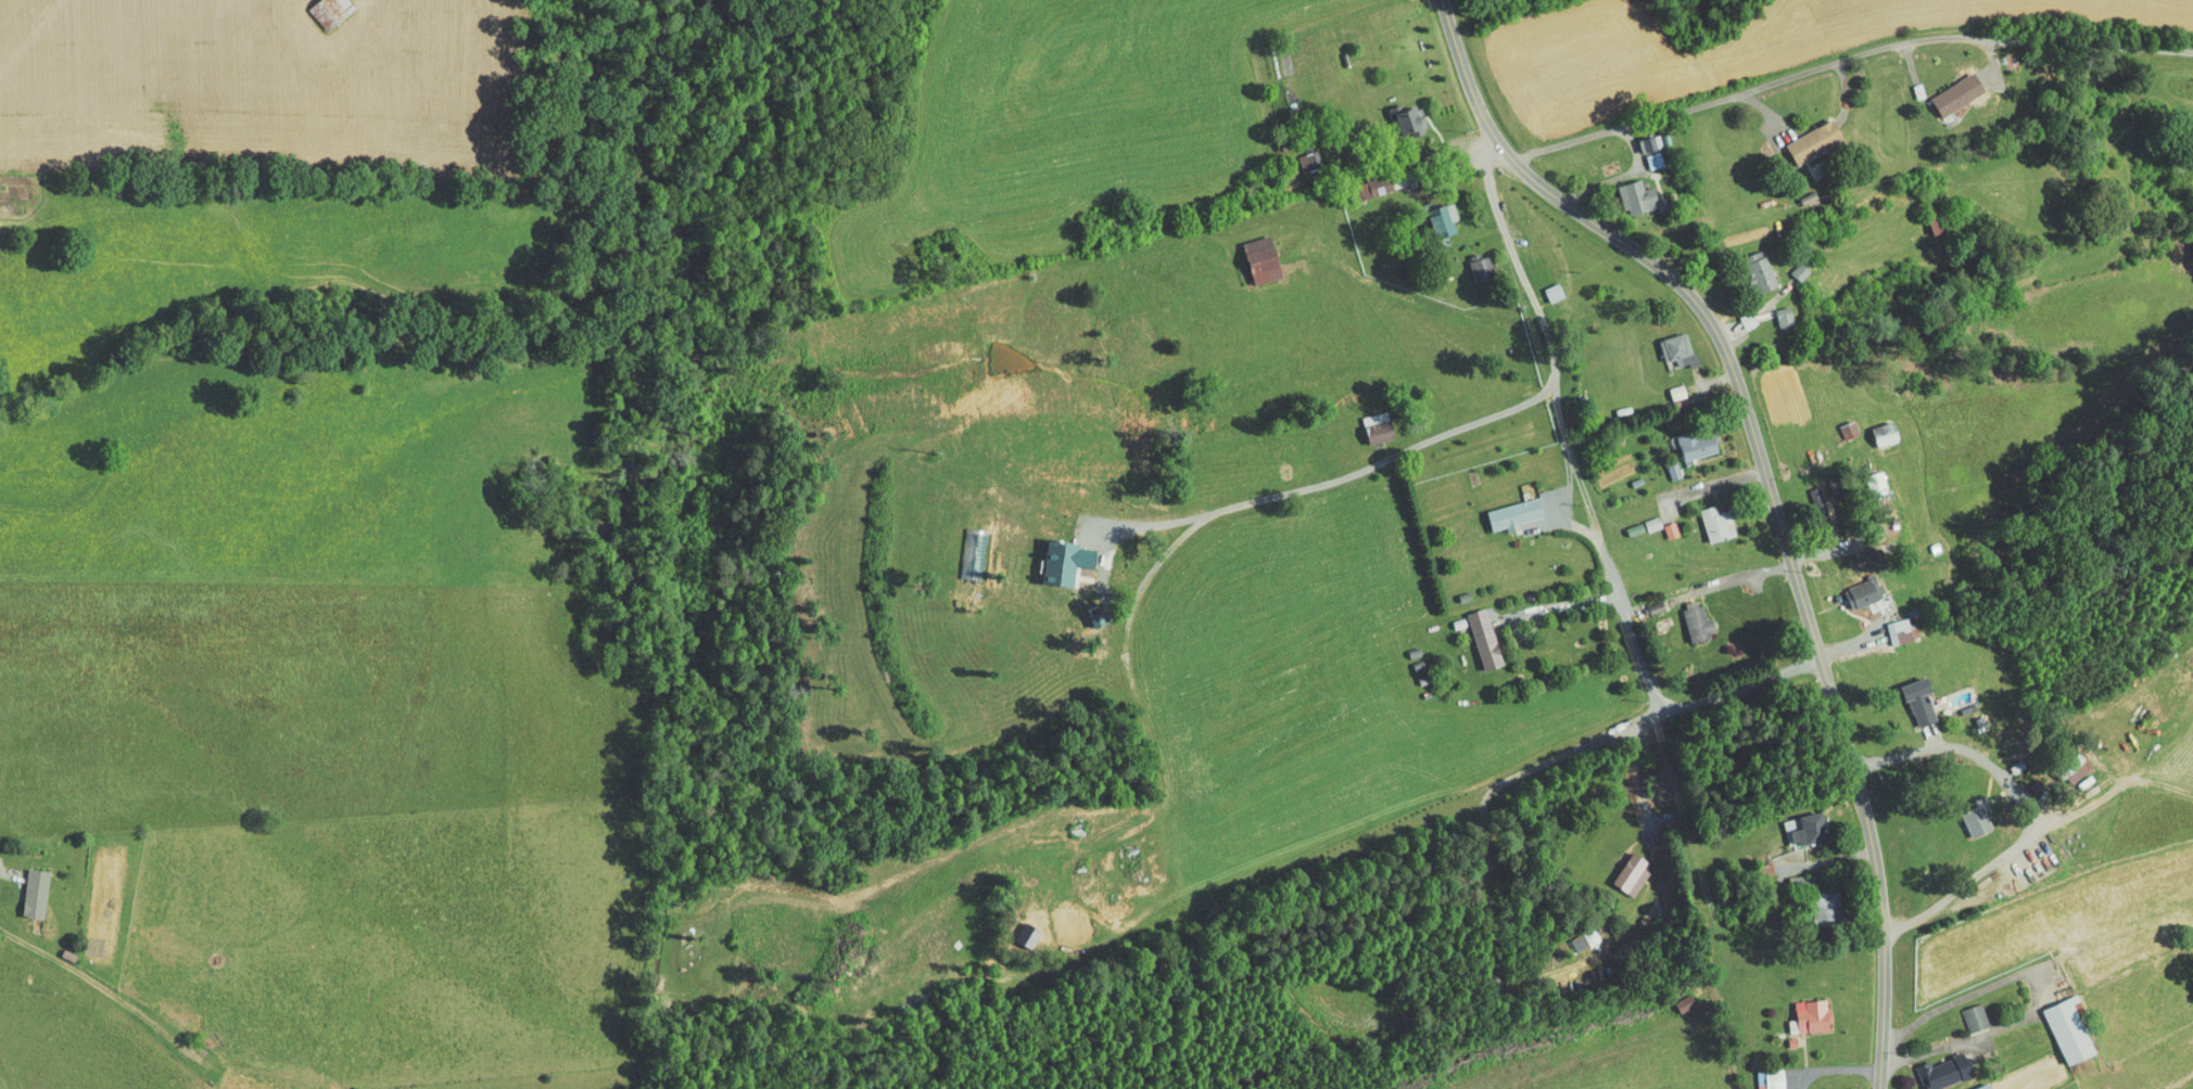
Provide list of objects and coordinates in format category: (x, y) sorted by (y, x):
building: (320, 8)
road: (1837, 60)
building: (1942, 90)
building: (1397, 114)
building: (1805, 133)
building: (1639, 137)
building: (1644, 153)
building: (1300, 154)
building: (1628, 190)
building: (1435, 212)
road: (1488, 218)
building: (1254, 252)
building: (1471, 262)
building: (1788, 264)
building: (1544, 284)
building: (1773, 309)
building: (1738, 312)
building: (1668, 342)
building: (1368, 420)
building: (1837, 423)
building: (1876, 426)
building: (1687, 437)
road: (1555, 438)
road: (1361, 457)
road: (1555, 487)
road: (1772, 487)
building: (1814, 487)
building: (1504, 508)
building: (1708, 516)
building: (1056, 554)
road: (1739, 566)
building: (1854, 586)
road: (1612, 606)
building: (1686, 615)
building: (1889, 624)
building: (1474, 631)
building: (1910, 693)
road: (1657, 714)
road: (2014, 800)
building: (1968, 816)
building: (1795, 821)
building: (1621, 868)
road: (4, 872)
building: (26, 886)
building: (1817, 899)
building: (1573, 932)
building: (1800, 1010)
building: (1963, 1011)
building: (2059, 1022)
building: (1934, 1065)
building: (1972, 1084)

